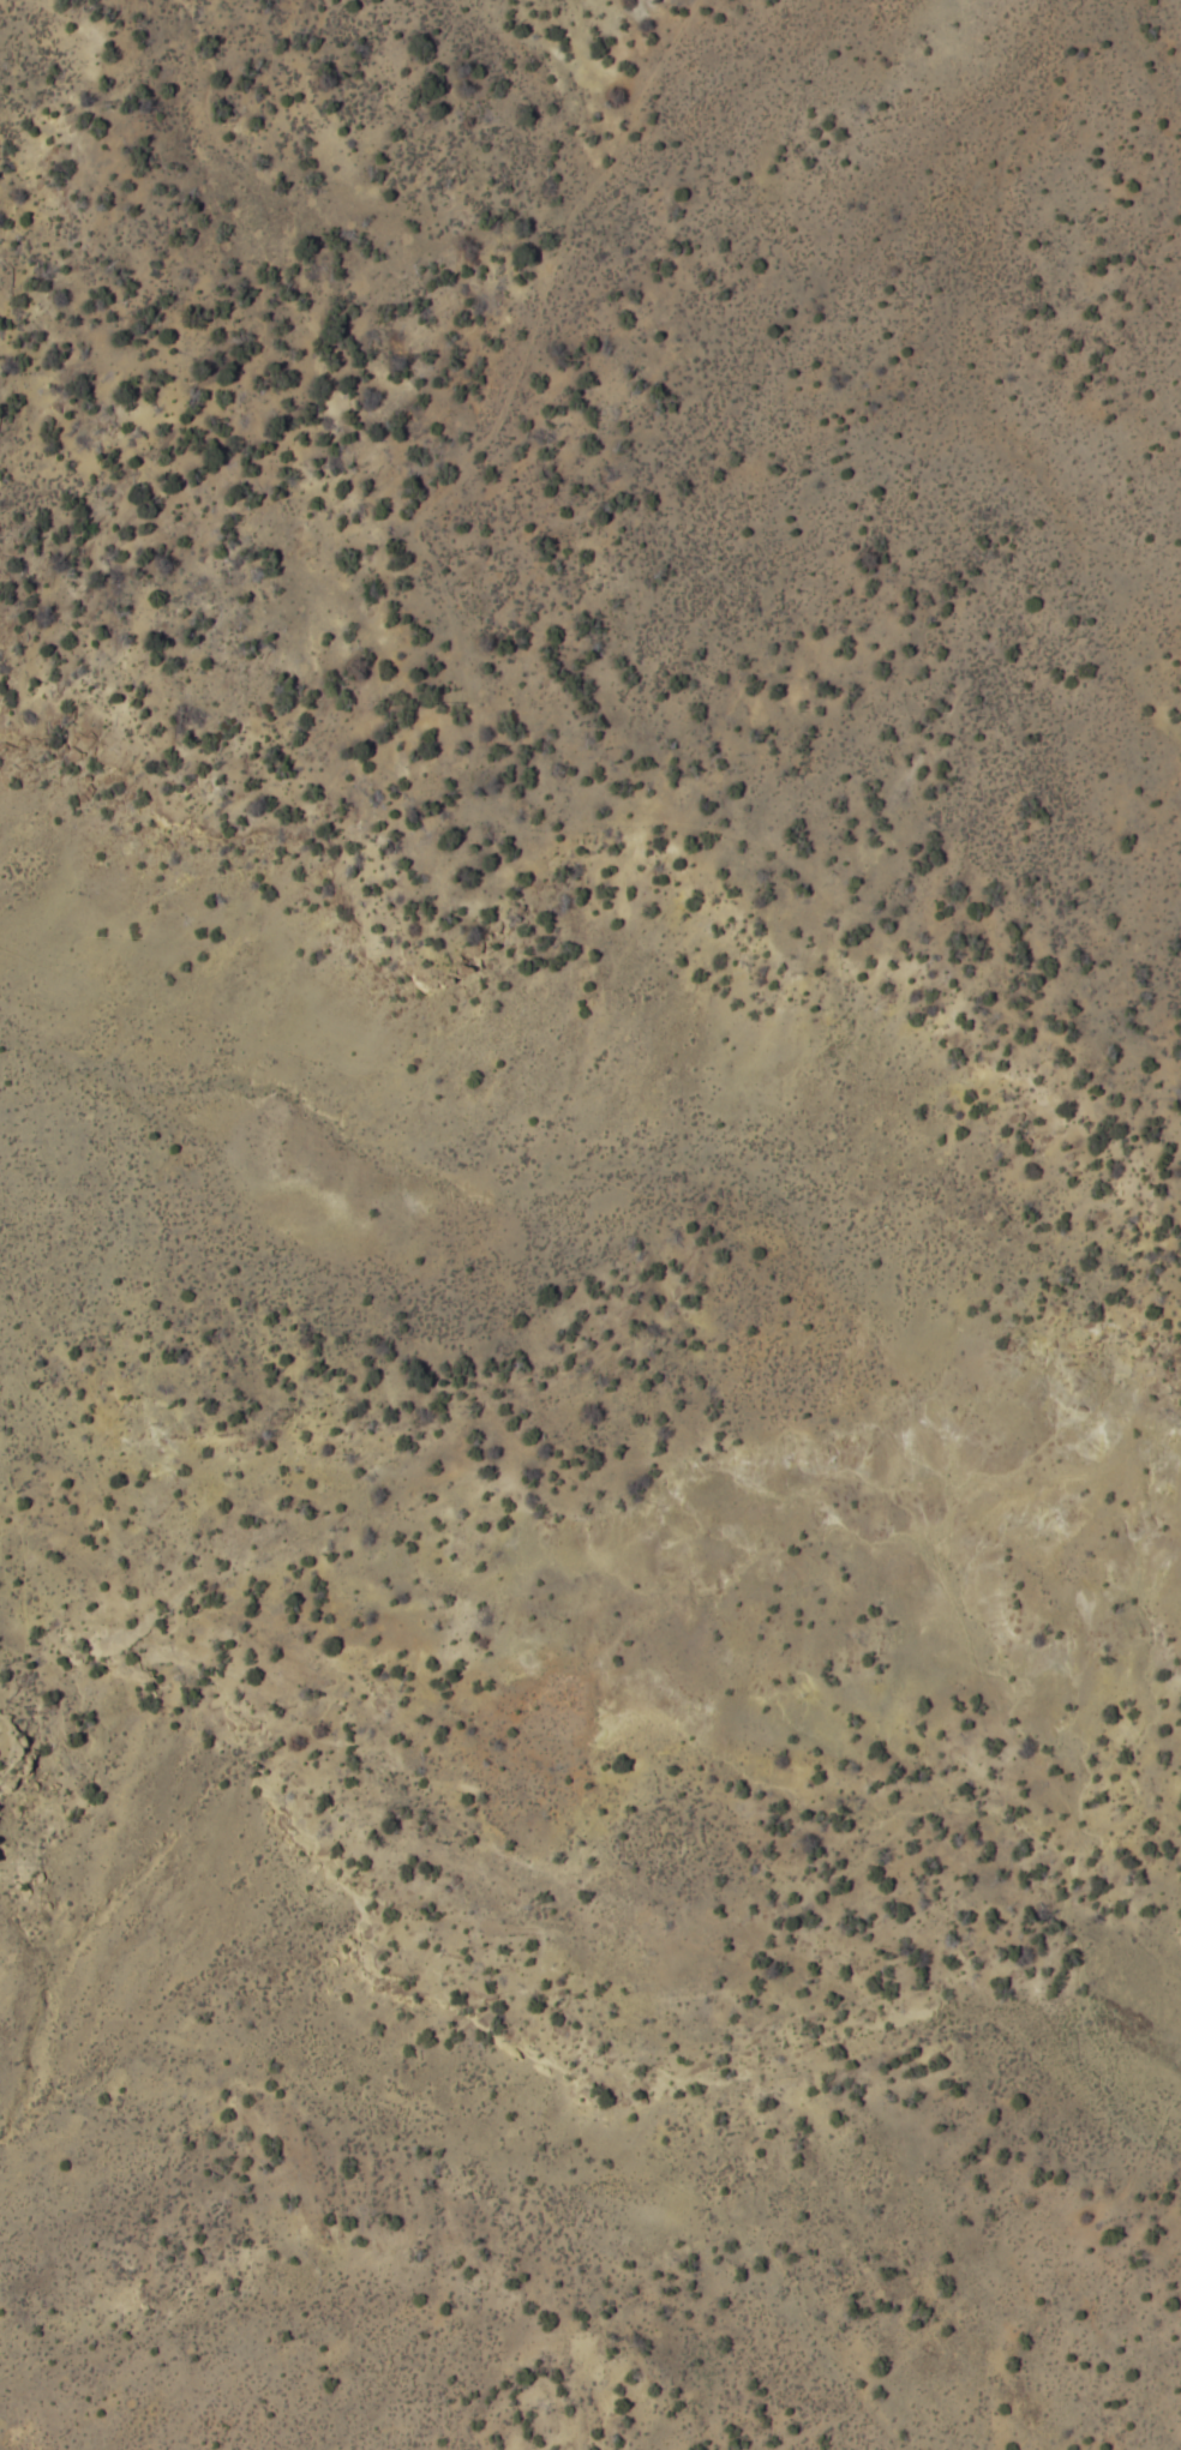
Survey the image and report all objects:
road: (1087, 2353)

